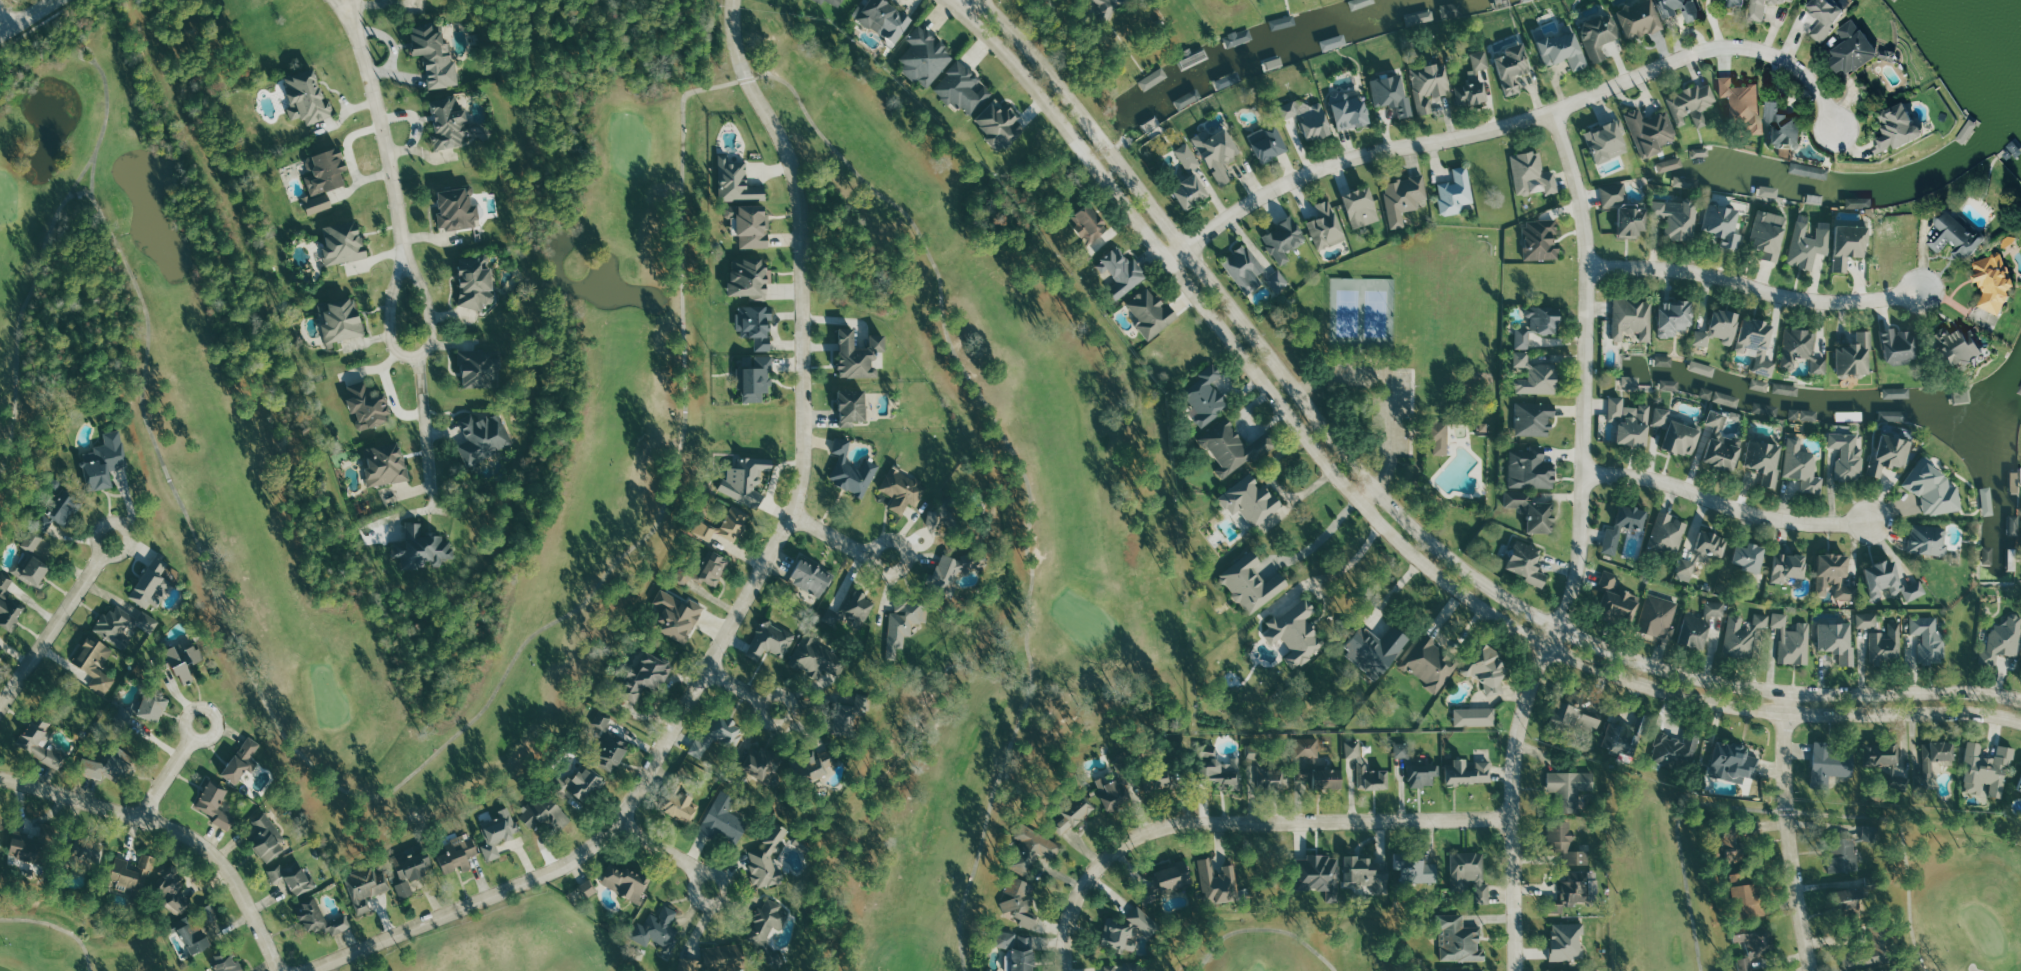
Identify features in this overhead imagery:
building: (831, 2)
building: (1740, 3)
road: (971, 7)
building: (1765, 8)
building: (1681, 9)
building: (1106, 10)
building: (1451, 11)
road: (26, 14)
building: (1828, 16)
road: (3, 19)
road: (345, 19)
road: (356, 19)
building: (884, 19)
building: (1640, 20)
building: (1283, 22)
building: (1600, 36)
building: (1239, 37)
building: (1857, 49)
building: (1562, 50)
building: (434, 57)
building: (925, 57)
building: (1513, 69)
building: (1154, 79)
building: (1225, 82)
building: (1475, 82)
building: (1430, 86)
building: (964, 89)
building: (1392, 95)
building: (306, 98)
building: (1185, 101)
building: (1744, 103)
building: (1692, 105)
building: (1349, 108)
building: (1309, 118)
road: (1521, 119)
building: (449, 123)
building: (999, 124)
building: (1785, 126)
building: (1900, 128)
building: (1651, 132)
building: (1608, 141)
road: (386, 142)
building: (1268, 143)
building: (1218, 153)
building: (1187, 157)
building: (1671, 165)
building: (1533, 175)
building: (324, 180)
building: (736, 182)
building: (1686, 183)
building: (1770, 191)
building: (1456, 192)
building: (1191, 193)
building: (1404, 198)
building: (1362, 208)
building: (456, 209)
building: (1625, 210)
building: (731, 212)
building: (1678, 217)
building: (1090, 223)
building: (1723, 223)
building: (1326, 226)
building: (753, 227)
building: (1769, 233)
building: (1957, 235)
building: (1284, 240)
building: (1541, 240)
building: (343, 244)
building: (1809, 244)
building: (1850, 244)
road: (1176, 255)
building: (1252, 271)
building: (1122, 272)
building: (750, 280)
building: (475, 281)
building: (1995, 281)
road: (1756, 284)
building: (1152, 313)
building: (1675, 316)
building: (1633, 319)
building: (341, 321)
building: (1538, 325)
building: (756, 326)
building: (1720, 328)
building: (1758, 343)
building: (1900, 346)
building: (1961, 346)
building: (1802, 349)
building: (1854, 355)
building: (859, 356)
road: (414, 357)
building: (1665, 361)
building: (1703, 368)
building: (477, 369)
building: (1535, 376)
building: (755, 377)
building: (1631, 381)
building: (1671, 385)
building: (1761, 385)
building: (1787, 389)
road: (1392, 390)
building: (1897, 392)
building: (1708, 393)
building: (1206, 395)
building: (1728, 399)
building: (367, 407)
building: (852, 408)
building: (1804, 414)
building: (1661, 416)
building: (1892, 416)
building: (1535, 418)
building: (1630, 421)
road: (426, 433)
building: (483, 435)
building: (1441, 438)
building: (1682, 438)
building: (1722, 443)
building: (1233, 447)
building: (1891, 453)
building: (1849, 455)
building: (1766, 460)
building: (104, 461)
building: (386, 464)
building: (1803, 466)
building: (851, 470)
building: (1531, 470)
building: (746, 480)
building: (1935, 488)
road: (1370, 489)
building: (1251, 500)
road: (1727, 504)
building: (1988, 505)
building: (60, 508)
building: (1535, 508)
road: (1404, 515)
building: (940, 518)
road: (1389, 520)
building: (733, 523)
building: (2015, 525)
building: (1614, 528)
road: (1328, 530)
building: (1668, 533)
road: (832, 537)
building: (1928, 540)
building: (32, 541)
road: (1579, 543)
road: (877, 546)
building: (423, 548)
building: (1704, 554)
road: (115, 555)
building: (1989, 555)
building: (1751, 557)
building: (1528, 563)
road: (1353, 564)
building: (1790, 567)
building: (31, 568)
building: (950, 568)
building: (705, 570)
building: (1834, 575)
building: (811, 577)
building: (1891, 581)
building: (152, 583)
building: (1254, 586)
road: (750, 590)
building: (1616, 597)
building: (8, 606)
building: (857, 607)
building: (676, 615)
building: (1659, 616)
building: (1762, 620)
building: (1868, 620)
building: (906, 621)
building: (123, 623)
building: (1700, 625)
road: (52, 629)
building: (1297, 632)
building: (1739, 636)
building: (1929, 638)
building: (771, 640)
building: (1838, 640)
building: (2003, 640)
building: (1793, 641)
building: (1887, 644)
building: (1376, 648)
building: (816, 654)
building: (180, 660)
building: (96, 663)
building: (1431, 664)
building: (1488, 669)
road: (1878, 675)
building: (645, 676)
road: (735, 686)
building: (152, 706)
building: (1579, 715)
building: (1475, 716)
road: (763, 719)
road: (214, 733)
building: (718, 734)
building: (1622, 740)
building: (40, 741)
building: (1402, 750)
building: (1677, 750)
building: (1883, 755)
building: (1937, 756)
building: (241, 760)
building: (760, 762)
building: (1733, 762)
building: (1361, 764)
building: (1831, 764)
building: (109, 765)
building: (814, 765)
building: (1315, 766)
building: (1239, 770)
building: (1988, 771)
building: (1469, 772)
building: (1423, 775)
building: (1157, 778)
road: (166, 779)
building: (583, 783)
building: (2020, 787)
building: (1571, 789)
building: (1114, 792)
building: (215, 803)
building: (682, 806)
building: (1074, 813)
building: (544, 814)
building: (724, 819)
road: (1251, 825)
road: (173, 829)
building: (499, 833)
building: (265, 836)
road: (1797, 840)
road: (660, 847)
building: (26, 848)
building: (1032, 849)
building: (1735, 849)
building: (86, 854)
building: (458, 854)
building: (1844, 855)
building: (768, 858)
building: (412, 867)
building: (1419, 871)
building: (1571, 871)
building: (131, 873)
building: (1368, 873)
building: (1320, 874)
building: (1470, 874)
building: (293, 876)
building: (1170, 878)
building: (627, 881)
road: (722, 881)
building: (1219, 882)
building: (365, 886)
building: (588, 889)
building: (173, 890)
building: (1745, 895)
building: (1019, 901)
building: (1848, 902)
building: (208, 914)
building: (320, 919)
building: (766, 925)
building: (657, 929)
building: (1128, 932)
building: (194, 937)
building: (1460, 940)
building: (1568, 941)
building: (1753, 945)
building: (1018, 951)
building: (718, 959)
building: (227, 962)
building: (1124, 967)
building: (1465, 969)
building: (1883, 970)

